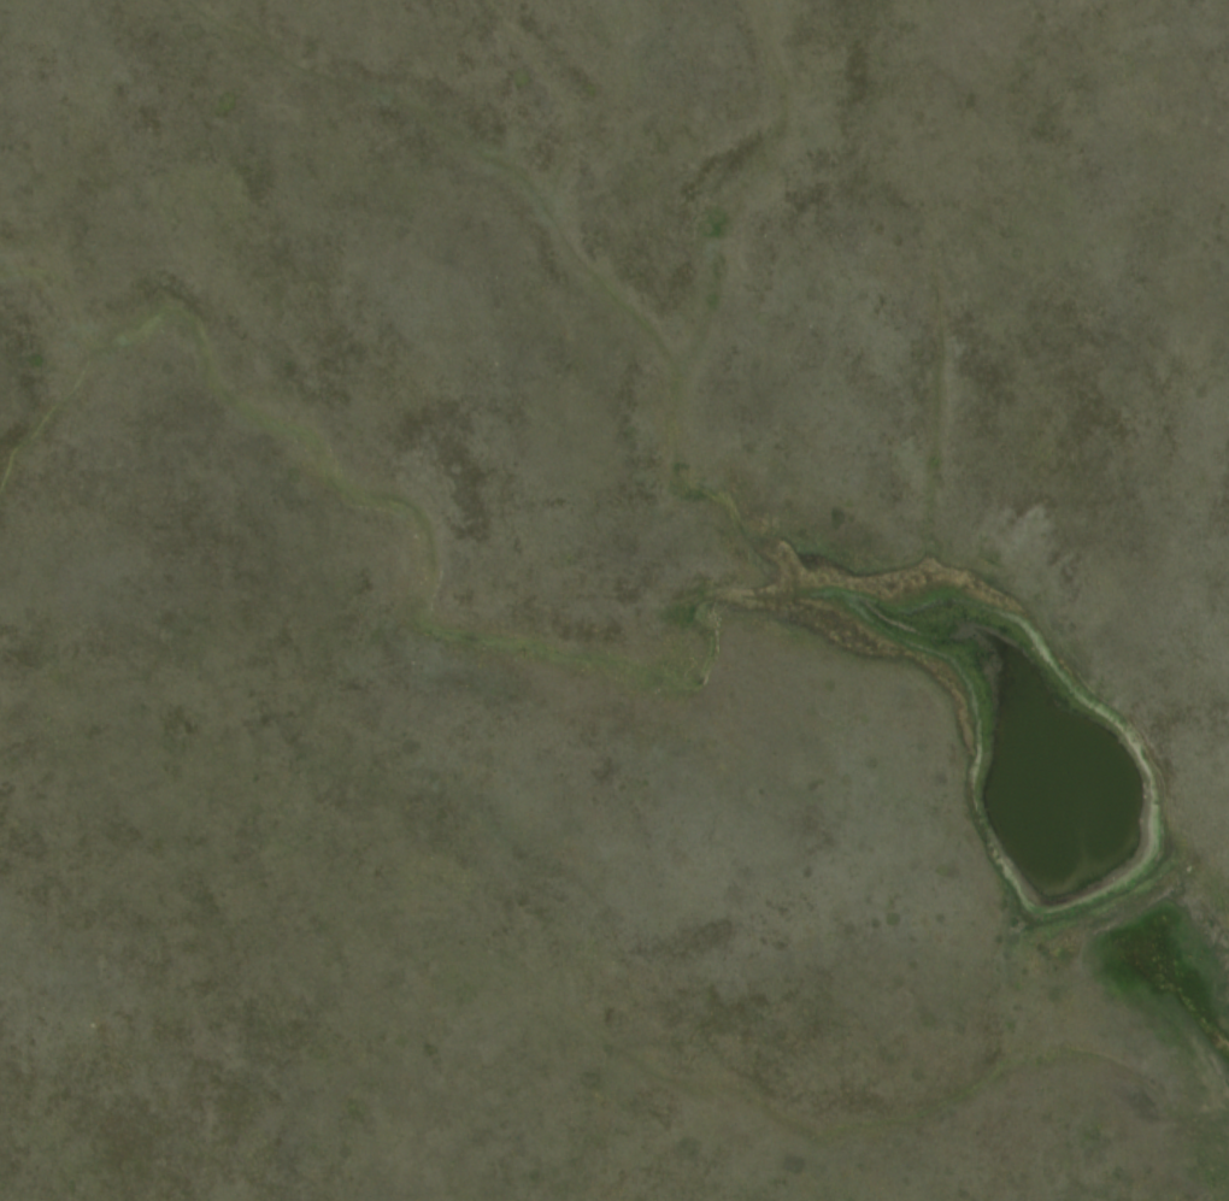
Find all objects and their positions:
dam: (1109, 903)

